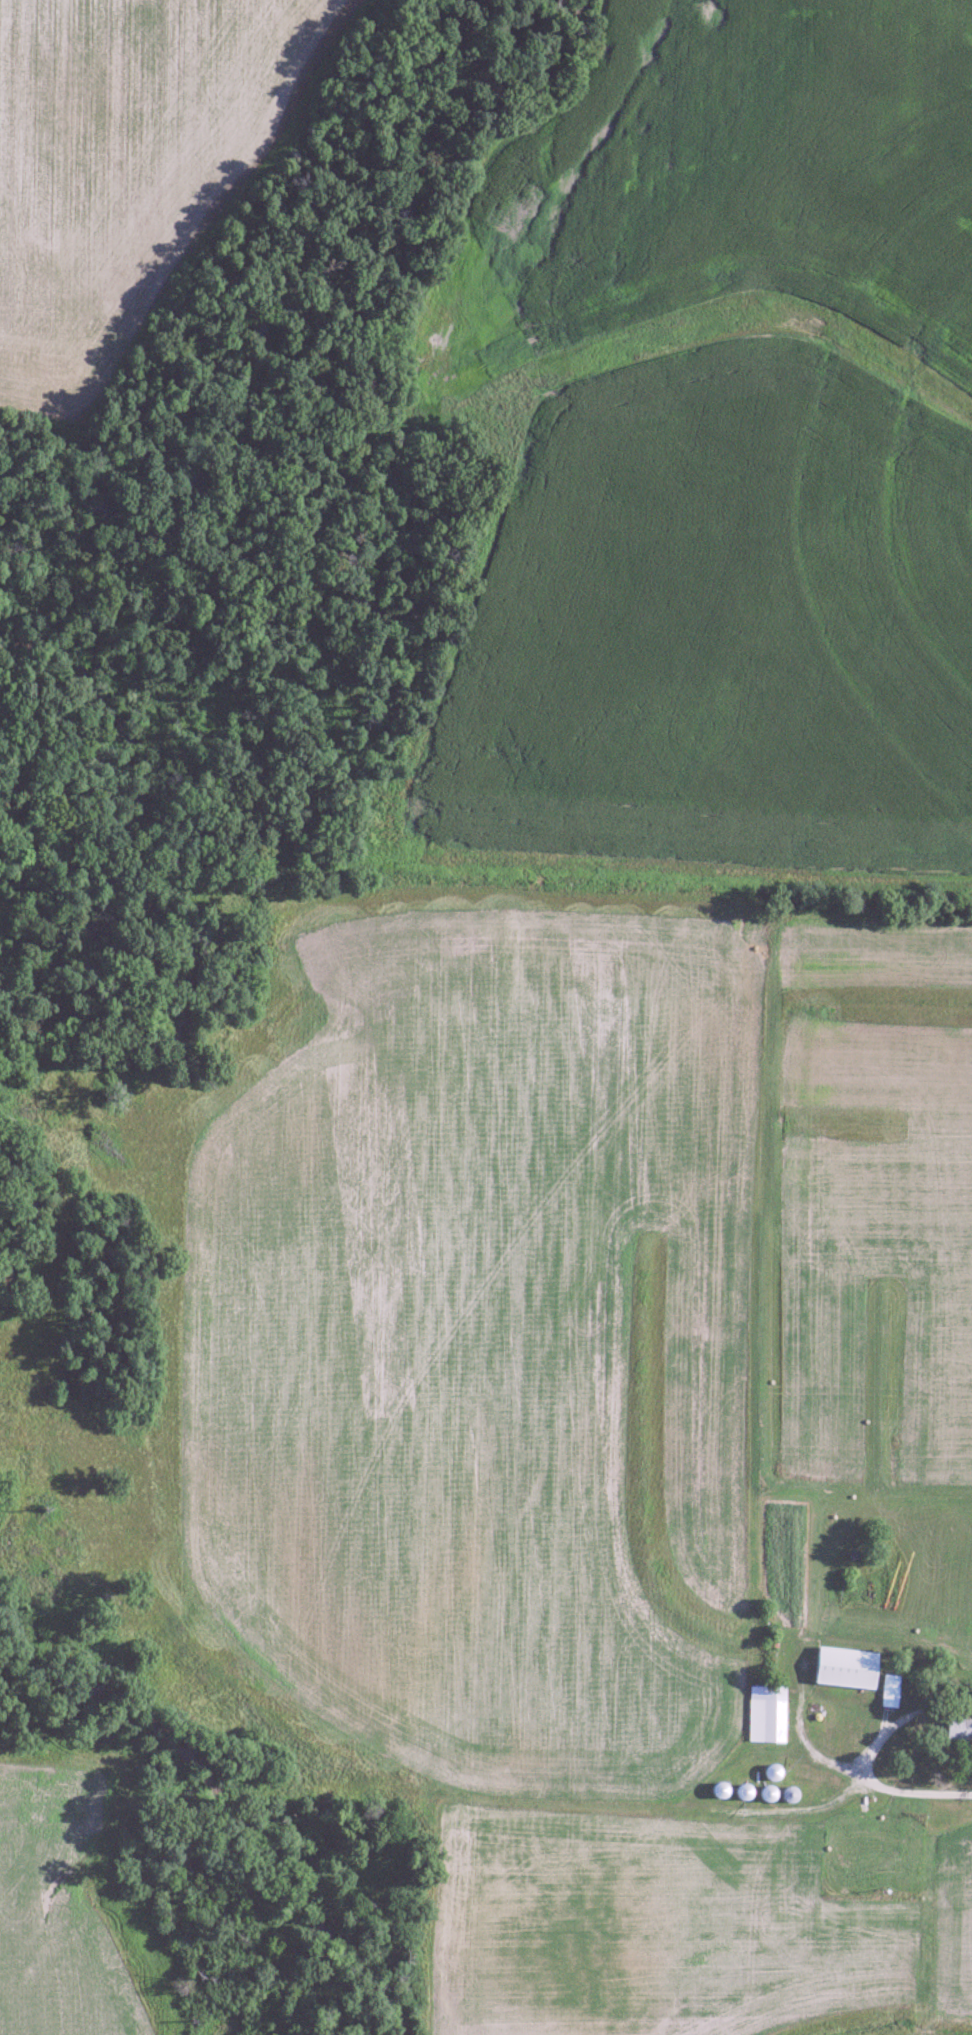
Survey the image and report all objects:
building: (844, 1666)
building: (889, 1690)
building: (766, 1712)
building: (958, 1727)
road: (850, 1779)
road: (647, 1802)

